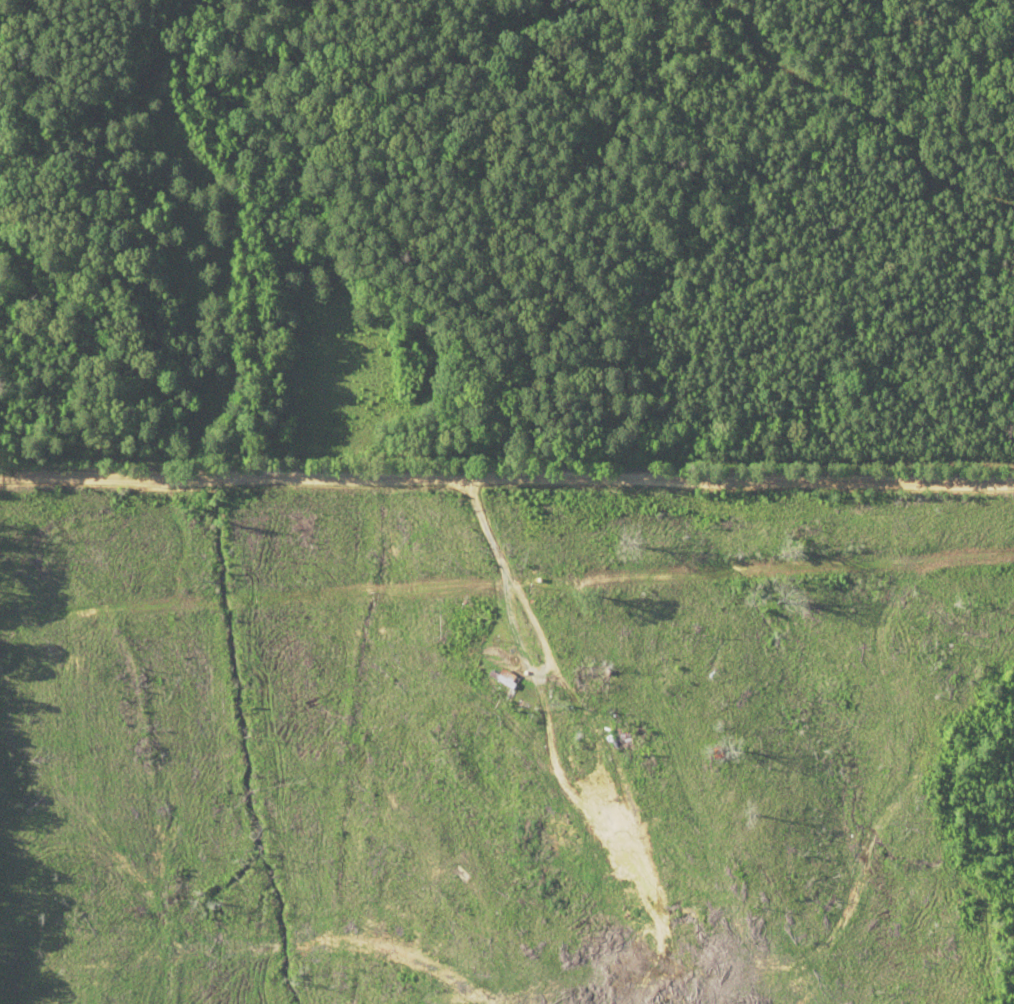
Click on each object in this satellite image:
road: (768, 236)
road: (507, 496)

